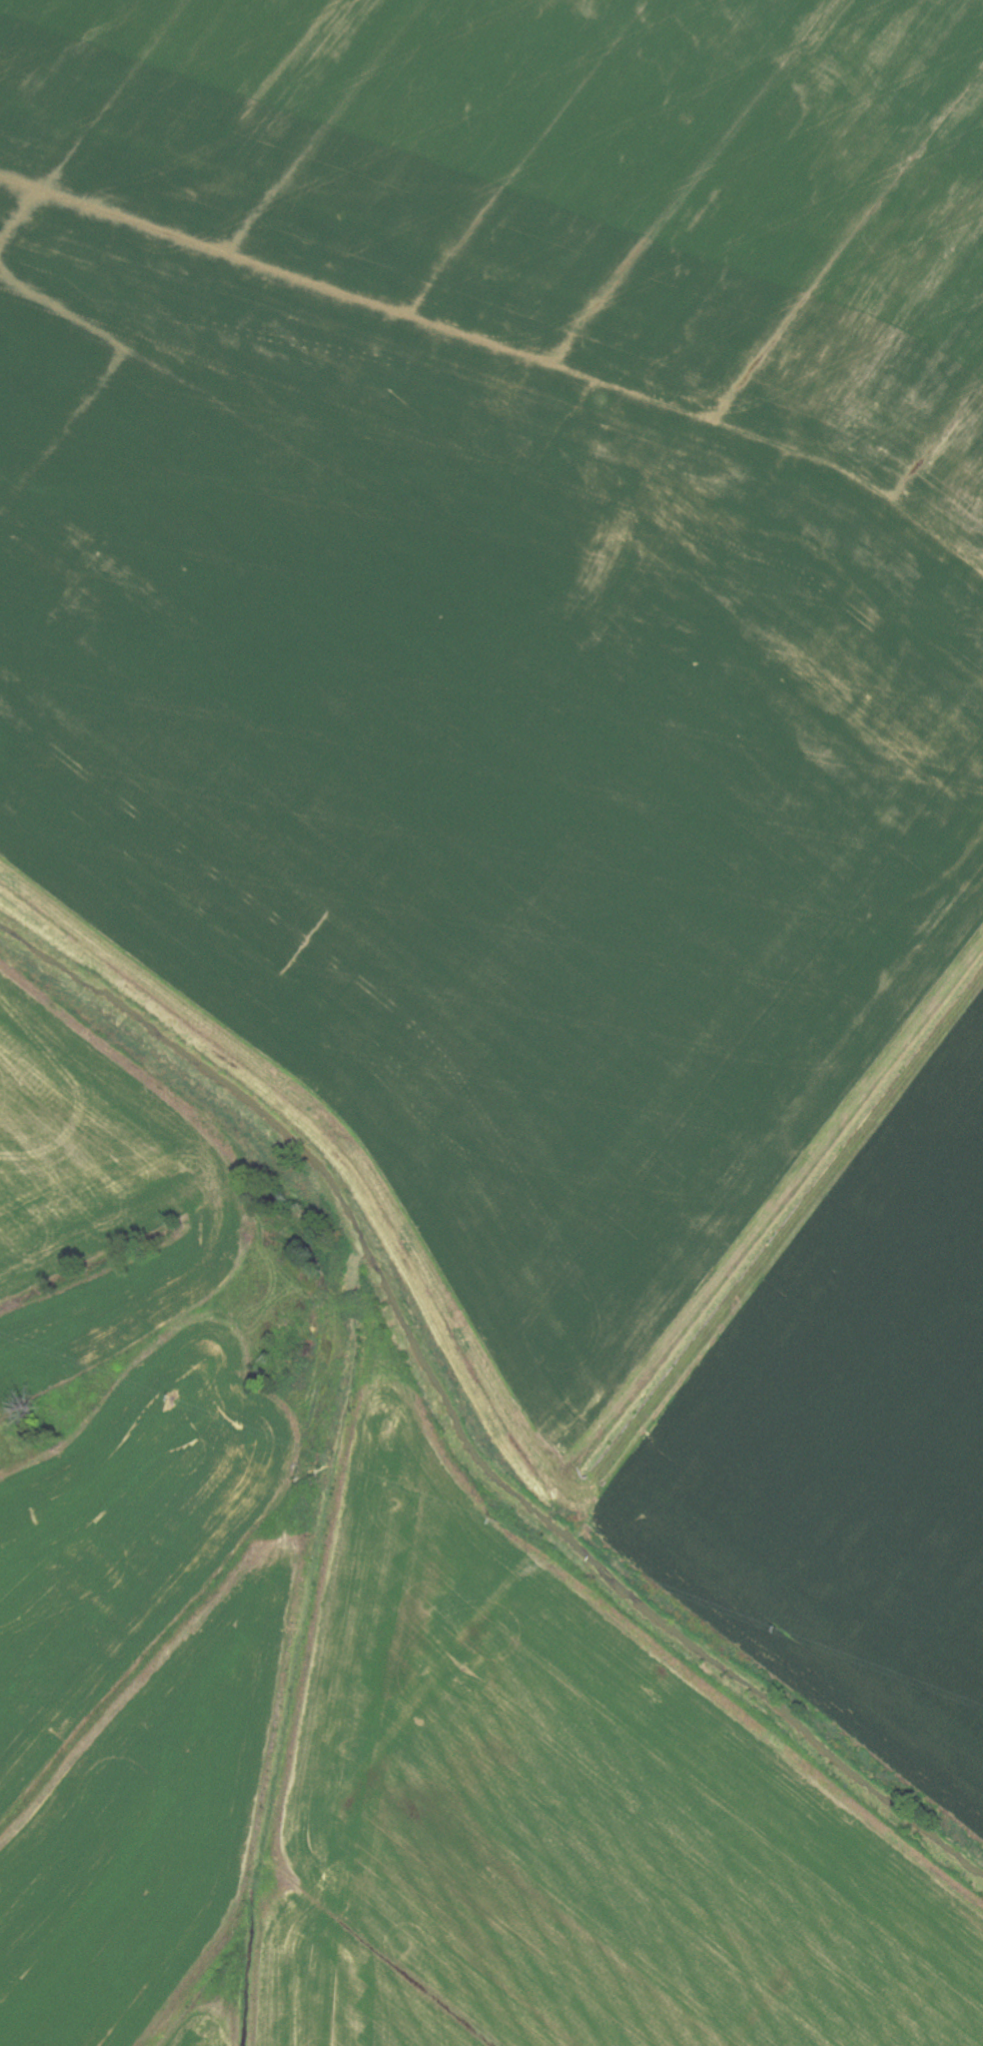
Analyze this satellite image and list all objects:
road: (594, 1484)

